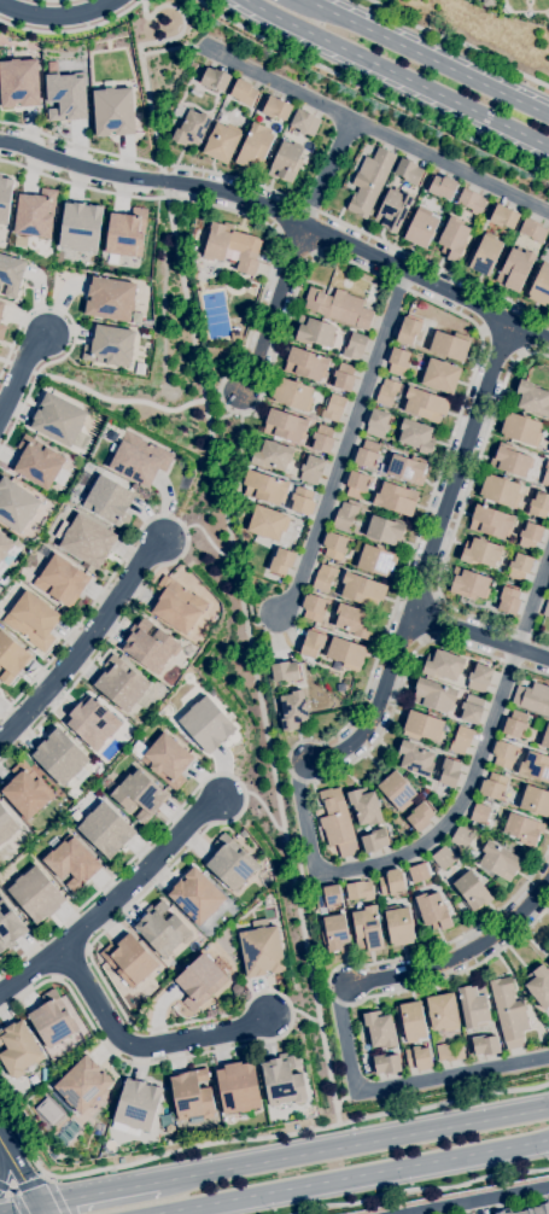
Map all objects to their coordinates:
road: (54, 1)
building: (489, 2)
road: (54, 16)
road: (72, 30)
road: (459, 42)
road: (181, 51)
road: (426, 58)
road: (396, 75)
building: (215, 80)
building: (18, 83)
road: (287, 84)
road: (372, 92)
building: (244, 93)
building: (66, 97)
building: (276, 109)
building: (113, 112)
building: (304, 123)
building: (191, 129)
building: (222, 142)
building: (255, 147)
road: (451, 160)
building: (286, 162)
road: (150, 163)
road: (331, 170)
building: (408, 171)
building: (370, 182)
road: (78, 186)
building: (442, 187)
building: (5, 198)
building: (472, 202)
building: (432, 204)
building: (393, 210)
building: (35, 215)
road: (282, 216)
building: (503, 217)
building: (78, 226)
building: (421, 228)
building: (532, 230)
building: (124, 233)
building: (454, 239)
building: (230, 247)
building: (548, 249)
building: (484, 255)
road: (424, 263)
building: (515, 269)
building: (8, 276)
building: (235, 282)
building: (541, 286)
building: (109, 298)
building: (1, 305)
road: (437, 305)
building: (339, 308)
road: (274, 310)
building: (1, 329)
building: (408, 331)
building: (314, 332)
road: (69, 337)
building: (449, 345)
building: (355, 346)
building: (112, 348)
road: (502, 349)
building: (398, 362)
building: (305, 364)
road: (16, 370)
building: (439, 377)
building: (344, 378)
building: (387, 392)
road: (220, 393)
building: (292, 395)
road: (103, 398)
building: (532, 398)
building: (425, 405)
building: (334, 409)
building: (57, 420)
road: (226, 420)
building: (378, 424)
building: (285, 426)
building: (521, 430)
building: (416, 436)
building: (322, 439)
road: (345, 442)
building: (548, 450)
road: (245, 454)
building: (271, 455)
building: (367, 455)
building: (139, 460)
road: (478, 460)
building: (510, 461)
building: (35, 462)
building: (405, 468)
building: (311, 469)
road: (462, 469)
building: (545, 475)
building: (356, 485)
building: (264, 488)
building: (500, 491)
building: (395, 498)
building: (109, 502)
building: (302, 502)
building: (16, 506)
building: (539, 506)
building: (345, 515)
road: (229, 521)
building: (490, 523)
building: (268, 524)
building: (385, 531)
road: (203, 532)
building: (530, 536)
road: (187, 537)
building: (87, 542)
building: (5, 547)
building: (334, 547)
building: (480, 553)
building: (374, 560)
building: (281, 562)
building: (519, 567)
road: (404, 573)
building: (323, 578)
building: (62, 580)
building: (469, 584)
building: (362, 590)
building: (492, 595)
building: (508, 601)
building: (177, 606)
building: (313, 608)
building: (545, 609)
road: (536, 614)
road: (473, 617)
building: (33, 620)
building: (354, 621)
road: (481, 637)
road: (531, 637)
building: (311, 644)
road: (83, 647)
building: (150, 647)
road: (462, 647)
building: (345, 654)
building: (11, 659)
building: (443, 665)
road: (525, 670)
building: (285, 671)
building: (479, 678)
building: (121, 684)
building: (434, 695)
building: (532, 699)
road: (382, 708)
building: (472, 710)
building: (293, 711)
building: (92, 723)
building: (206, 724)
building: (515, 724)
building: (422, 726)
building: (544, 736)
road: (379, 737)
building: (461, 740)
building: (503, 755)
building: (59, 758)
building: (164, 759)
building: (415, 759)
building: (535, 766)
building: (450, 774)
building: (493, 787)
building: (25, 790)
building: (397, 790)
building: (139, 794)
building: (535, 801)
building: (366, 807)
building: (479, 813)
building: (420, 817)
building: (337, 823)
building: (6, 825)
building: (105, 830)
building: (522, 830)
building: (462, 839)
building: (374, 841)
road: (422, 846)
building: (443, 858)
building: (71, 862)
building: (498, 862)
building: (232, 863)
building: (419, 874)
building: (391, 883)
building: (360, 891)
building: (472, 892)
building: (35, 895)
building: (197, 897)
building: (328, 897)
road: (116, 906)
building: (433, 911)
building: (398, 926)
building: (10, 927)
building: (367, 929)
building: (162, 930)
building: (334, 934)
road: (446, 942)
road: (457, 950)
building: (262, 952)
building: (129, 961)
building: (548, 964)
road: (448, 976)
road: (104, 981)
building: (199, 982)
building: (539, 986)
building: (473, 1006)
building: (509, 1012)
building: (443, 1014)
building: (52, 1020)
building: (411, 1021)
building: (379, 1029)
building: (485, 1045)
road: (146, 1046)
building: (18, 1049)
building: (450, 1052)
building: (417, 1058)
building: (386, 1064)
building: (284, 1081)
road: (398, 1081)
building: (82, 1085)
building: (238, 1087)
building: (167, 1093)
building: (191, 1096)
building: (136, 1105)
building: (296, 1127)
building: (170, 1130)
road: (253, 1139)
road: (352, 1145)
road: (0, 1155)
road: (21, 1177)
road: (356, 1177)
road: (24, 1186)
road: (421, 1190)
road: (97, 1193)
road: (56, 1195)
road: (485, 1202)
traffic signals: (37, 1206)
road: (18, 1208)
building: (535, 1208)
building: (502, 1212)

